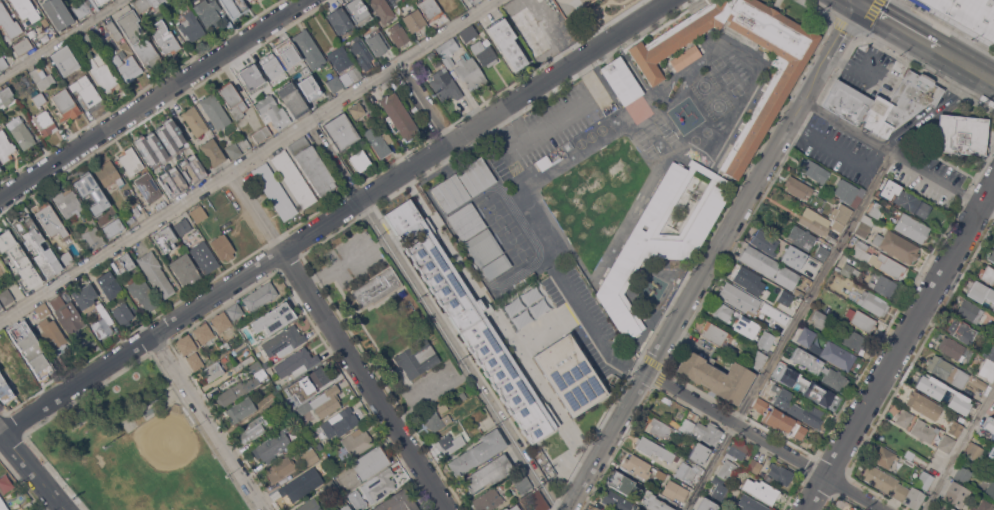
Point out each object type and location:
building: (249, 0)
building: (391, 0)
building: (100, 1)
building: (162, 1)
building: (463, 1)
building: (474, 2)
building: (147, 5)
building: (234, 7)
building: (80, 8)
building: (430, 8)
building: (26, 9)
building: (383, 10)
building: (398, 10)
building: (208, 12)
building: (359, 12)
building: (57, 13)
building: (966, 16)
building: (339, 20)
building: (414, 20)
building: (9, 22)
building: (45, 22)
road: (897, 24)
building: (191, 26)
building: (114, 30)
building: (468, 33)
building: (399, 35)
building: (85, 38)
building: (137, 38)
building: (165, 38)
road: (62, 39)
building: (376, 40)
building: (506, 43)
building: (23, 45)
building: (309, 49)
building: (447, 50)
building: (361, 52)
building: (484, 53)
building: (288, 54)
building: (685, 57)
building: (65, 61)
building: (270, 64)
road: (966, 64)
building: (126, 66)
building: (2, 67)
building: (336, 69)
building: (469, 71)
building: (355, 73)
building: (102, 76)
building: (249, 76)
building: (42, 78)
building: (621, 80)
building: (445, 85)
building: (309, 88)
building: (85, 92)
building: (6, 96)
building: (39, 99)
road: (153, 99)
building: (292, 99)
building: (233, 100)
road: (515, 100)
road: (422, 102)
building: (883, 102)
building: (66, 104)
building: (0, 107)
building: (357, 110)
road: (929, 110)
building: (215, 111)
building: (271, 111)
road: (563, 114)
building: (398, 116)
building: (195, 120)
building: (45, 122)
building: (755, 127)
building: (341, 131)
building: (21, 133)
building: (262, 134)
building: (962, 134)
building: (387, 137)
building: (243, 142)
building: (377, 143)
building: (6, 147)
building: (165, 148)
building: (234, 150)
building: (212, 152)
road: (898, 156)
building: (131, 160)
road: (247, 160)
building: (359, 160)
road: (332, 161)
building: (544, 162)
building: (312, 166)
building: (0, 169)
building: (814, 170)
building: (109, 173)
building: (521, 178)
building: (188, 179)
building: (294, 179)
building: (172, 183)
building: (463, 184)
building: (147, 187)
building: (798, 188)
building: (887, 188)
building: (847, 190)
building: (274, 191)
building: (91, 192)
building: (160, 201)
building: (68, 202)
building: (912, 203)
building: (876, 211)
building: (199, 214)
building: (840, 216)
building: (131, 219)
building: (50, 220)
building: (90, 220)
building: (466, 223)
building: (816, 223)
road: (320, 225)
building: (864, 226)
building: (113, 227)
building: (183, 227)
building: (912, 228)
building: (366, 232)
building: (801, 237)
building: (92, 238)
building: (165, 239)
building: (661, 239)
building: (766, 241)
building: (859, 243)
building: (897, 245)
building: (37, 247)
building: (223, 247)
building: (483, 248)
building: (822, 252)
building: (790, 254)
building: (991, 254)
building: (204, 257)
road: (712, 257)
building: (67, 258)
building: (18, 261)
building: (880, 261)
building: (122, 264)
building: (769, 266)
building: (184, 268)
building: (496, 268)
building: (849, 270)
building: (156, 274)
building: (987, 274)
building: (749, 279)
building: (883, 285)
building: (111, 287)
building: (377, 287)
building: (980, 291)
building: (799, 292)
building: (142, 293)
building: (783, 295)
building: (827, 295)
building: (6, 296)
building: (260, 296)
building: (85, 297)
building: (739, 297)
building: (873, 302)
building: (1, 305)
building: (41, 310)
building: (722, 310)
building: (235, 311)
building: (969, 312)
building: (775, 313)
building: (123, 314)
building: (67, 315)
building: (273, 317)
building: (819, 318)
building: (861, 320)
building: (221, 321)
building: (103, 322)
building: (472, 324)
building: (747, 326)
road: (594, 327)
building: (962, 329)
road: (788, 331)
building: (52, 332)
building: (203, 333)
building: (716, 335)
building: (806, 336)
building: (853, 339)
road: (340, 340)
building: (766, 340)
road: (140, 342)
building: (283, 342)
building: (185, 344)
road: (899, 345)
building: (31, 348)
building: (952, 348)
building: (989, 350)
building: (414, 352)
road: (459, 355)
building: (838, 355)
building: (807, 359)
building: (758, 360)
building: (195, 361)
building: (296, 362)
building: (243, 363)
building: (266, 364)
building: (422, 364)
building: (255, 366)
building: (987, 370)
building: (212, 371)
building: (947, 371)
building: (17, 372)
building: (783, 373)
building: (569, 374)
building: (716, 376)
building: (266, 377)
building: (834, 377)
building: (309, 384)
building: (981, 384)
building: (940, 389)
building: (5, 390)
building: (237, 390)
building: (818, 394)
building: (459, 395)
road: (431, 396)
building: (322, 403)
building: (923, 404)
building: (760, 405)
building: (798, 408)
building: (241, 409)
building: (967, 410)
building: (993, 414)
building: (904, 417)
building: (265, 418)
building: (437, 420)
building: (782, 421)
building: (340, 422)
road: (210, 423)
building: (989, 427)
building: (660, 428)
building: (956, 428)
building: (699, 430)
building: (924, 430)
building: (251, 431)
building: (881, 437)
building: (357, 441)
road: (765, 441)
building: (946, 443)
building: (449, 444)
building: (803, 444)
building: (272, 446)
building: (318, 447)
building: (656, 449)
park: (141, 450)
building: (737, 450)
road: (959, 451)
building: (478, 452)
building: (974, 452)
building: (991, 452)
building: (698, 453)
building: (309, 455)
building: (885, 457)
building: (371, 462)
building: (637, 465)
building: (754, 465)
building: (320, 467)
building: (993, 468)
building: (280, 469)
road: (33, 470)
building: (166, 470)
building: (688, 471)
building: (727, 471)
building: (488, 473)
building: (780, 473)
building: (660, 474)
building: (961, 474)
building: (768, 477)
building: (925, 480)
building: (521, 481)
building: (623, 483)
building: (5, 484)
building: (379, 485)
building: (297, 487)
building: (893, 487)
building: (718, 488)
building: (990, 489)
building: (760, 490)
building: (674, 491)
building: (956, 494)
building: (357, 499)
building: (488, 500)
building: (537, 501)
building: (618, 501)
building: (397, 502)
building: (653, 502)
building: (750, 503)
building: (706, 504)
building: (3, 505)
building: (310, 505)
building: (983, 505)
building: (344, 507)
road: (61, 508)
building: (505, 508)
building: (513, 508)
building: (852, 508)
building: (594, 509)
building: (598, 509)
building: (845, 509)
building: (950, 509)
building: (951, 509)

